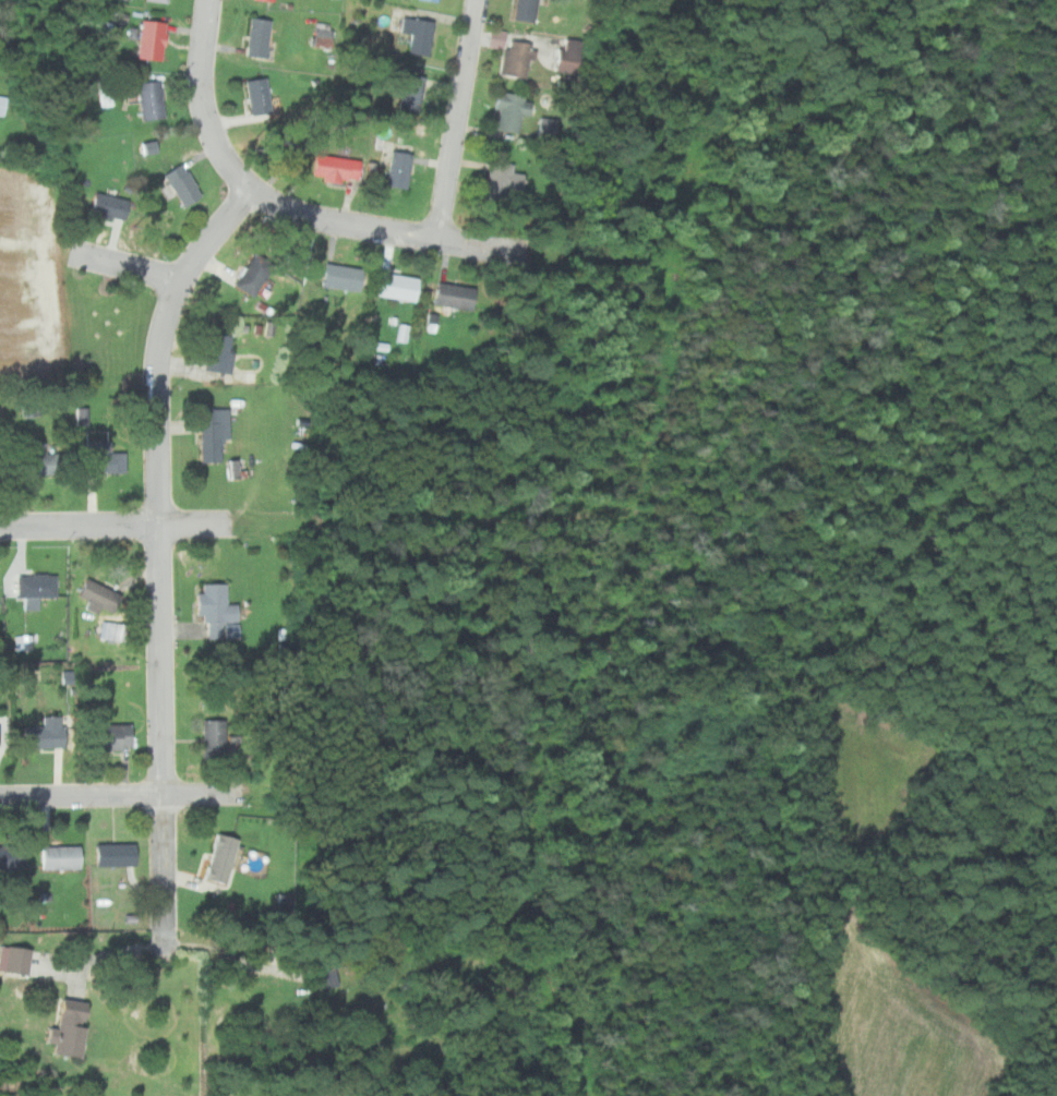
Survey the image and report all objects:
building: (160, 0)
building: (267, 0)
building: (431, 0)
building: (529, 10)
building: (420, 33)
building: (326, 34)
building: (260, 37)
building: (153, 38)
building: (573, 53)
building: (520, 58)
building: (408, 92)
building: (261, 94)
building: (152, 99)
building: (2, 103)
building: (515, 110)
road: (459, 120)
building: (545, 127)
building: (341, 167)
building: (403, 168)
building: (508, 179)
building: (184, 183)
building: (112, 205)
road: (283, 206)
road: (129, 265)
building: (257, 273)
building: (346, 276)
building: (400, 286)
building: (455, 296)
building: (224, 352)
building: (217, 432)
building: (41, 459)
building: (106, 459)
road: (196, 523)
road: (80, 525)
road: (161, 556)
building: (39, 585)
building: (101, 597)
building: (218, 606)
building: (116, 629)
building: (45, 734)
building: (1, 735)
building: (116, 736)
building: (216, 738)
road: (120, 794)
building: (118, 854)
building: (13, 856)
building: (63, 856)
building: (223, 857)
road: (108, 955)
building: (12, 959)
building: (327, 969)
building: (73, 1027)

